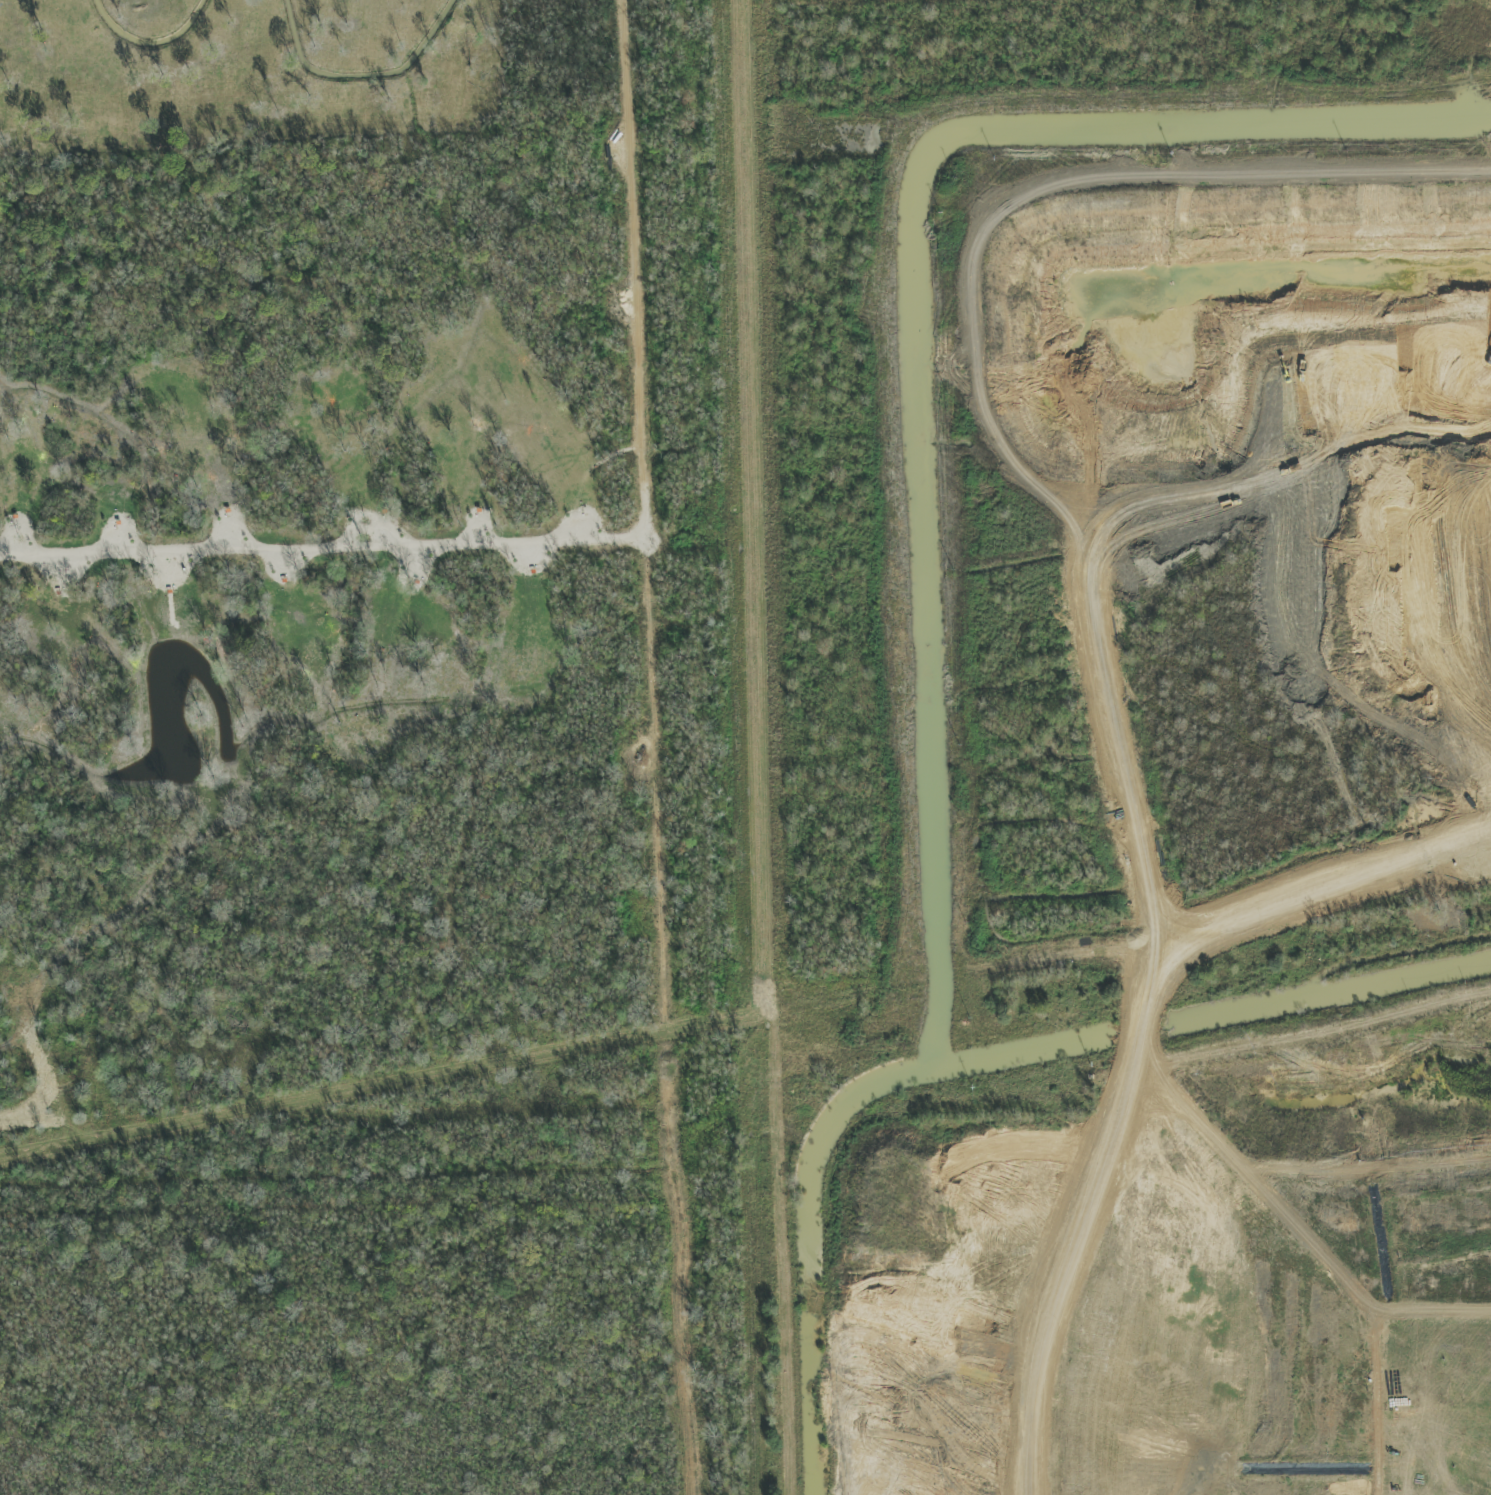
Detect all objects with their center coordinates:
road: (629, 270)
road: (319, 553)
landfill: (1184, 1266)

